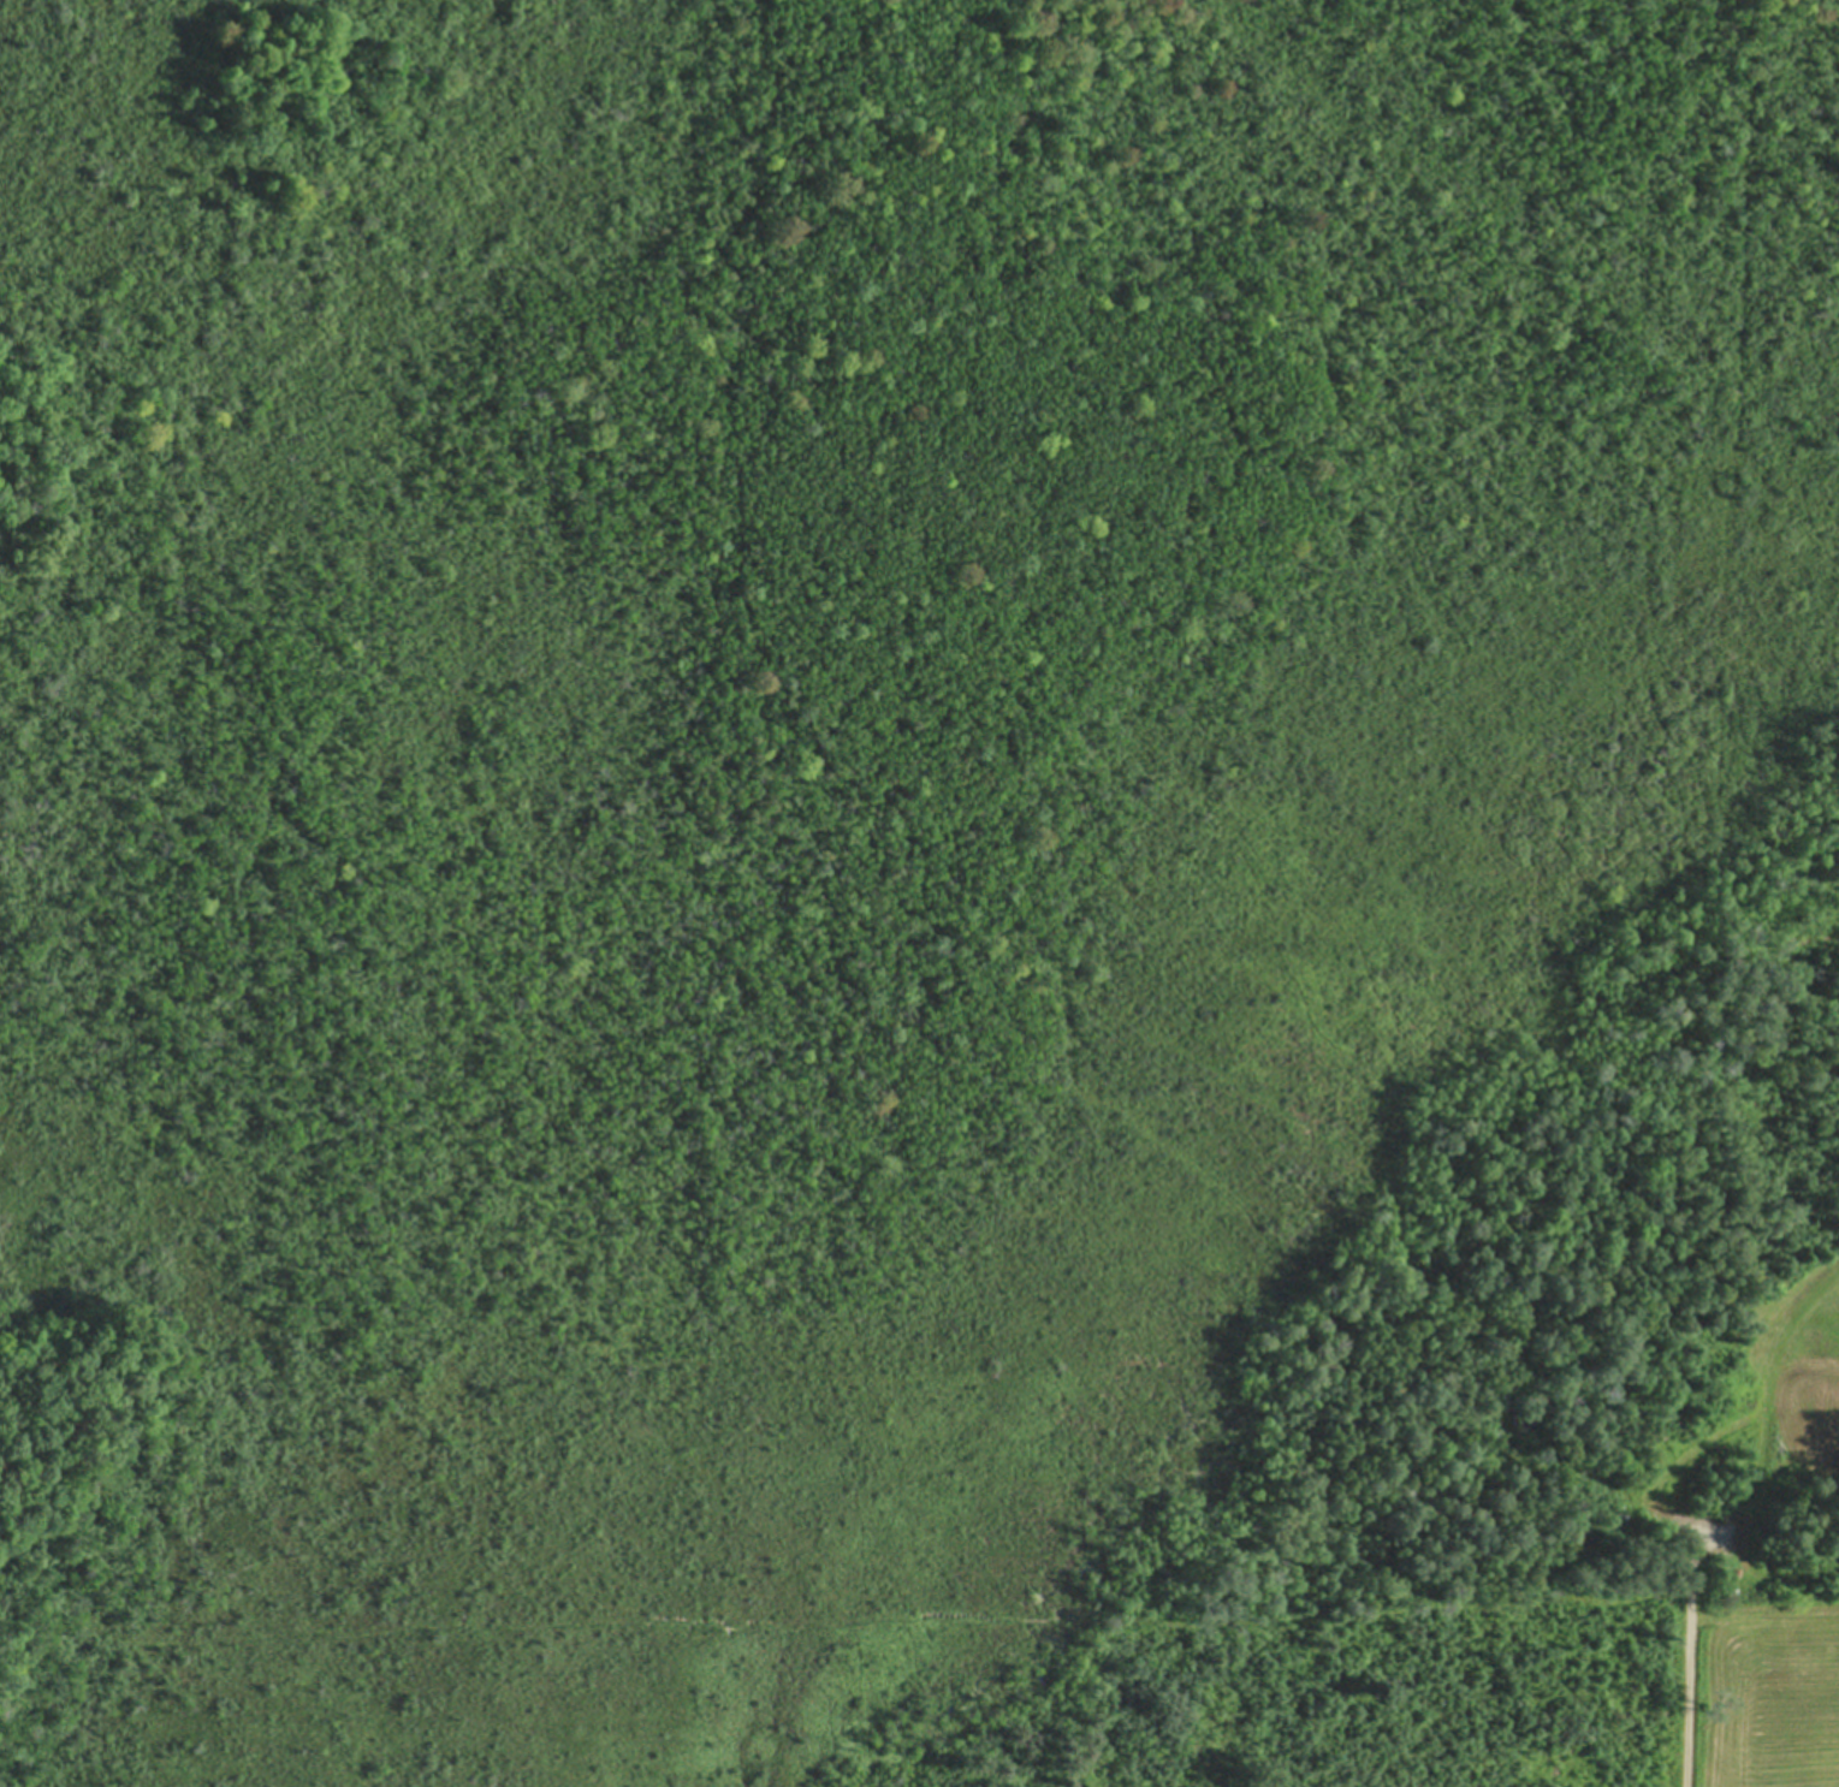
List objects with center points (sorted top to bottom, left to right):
building: (1520, 1414)
road: (1686, 1663)

